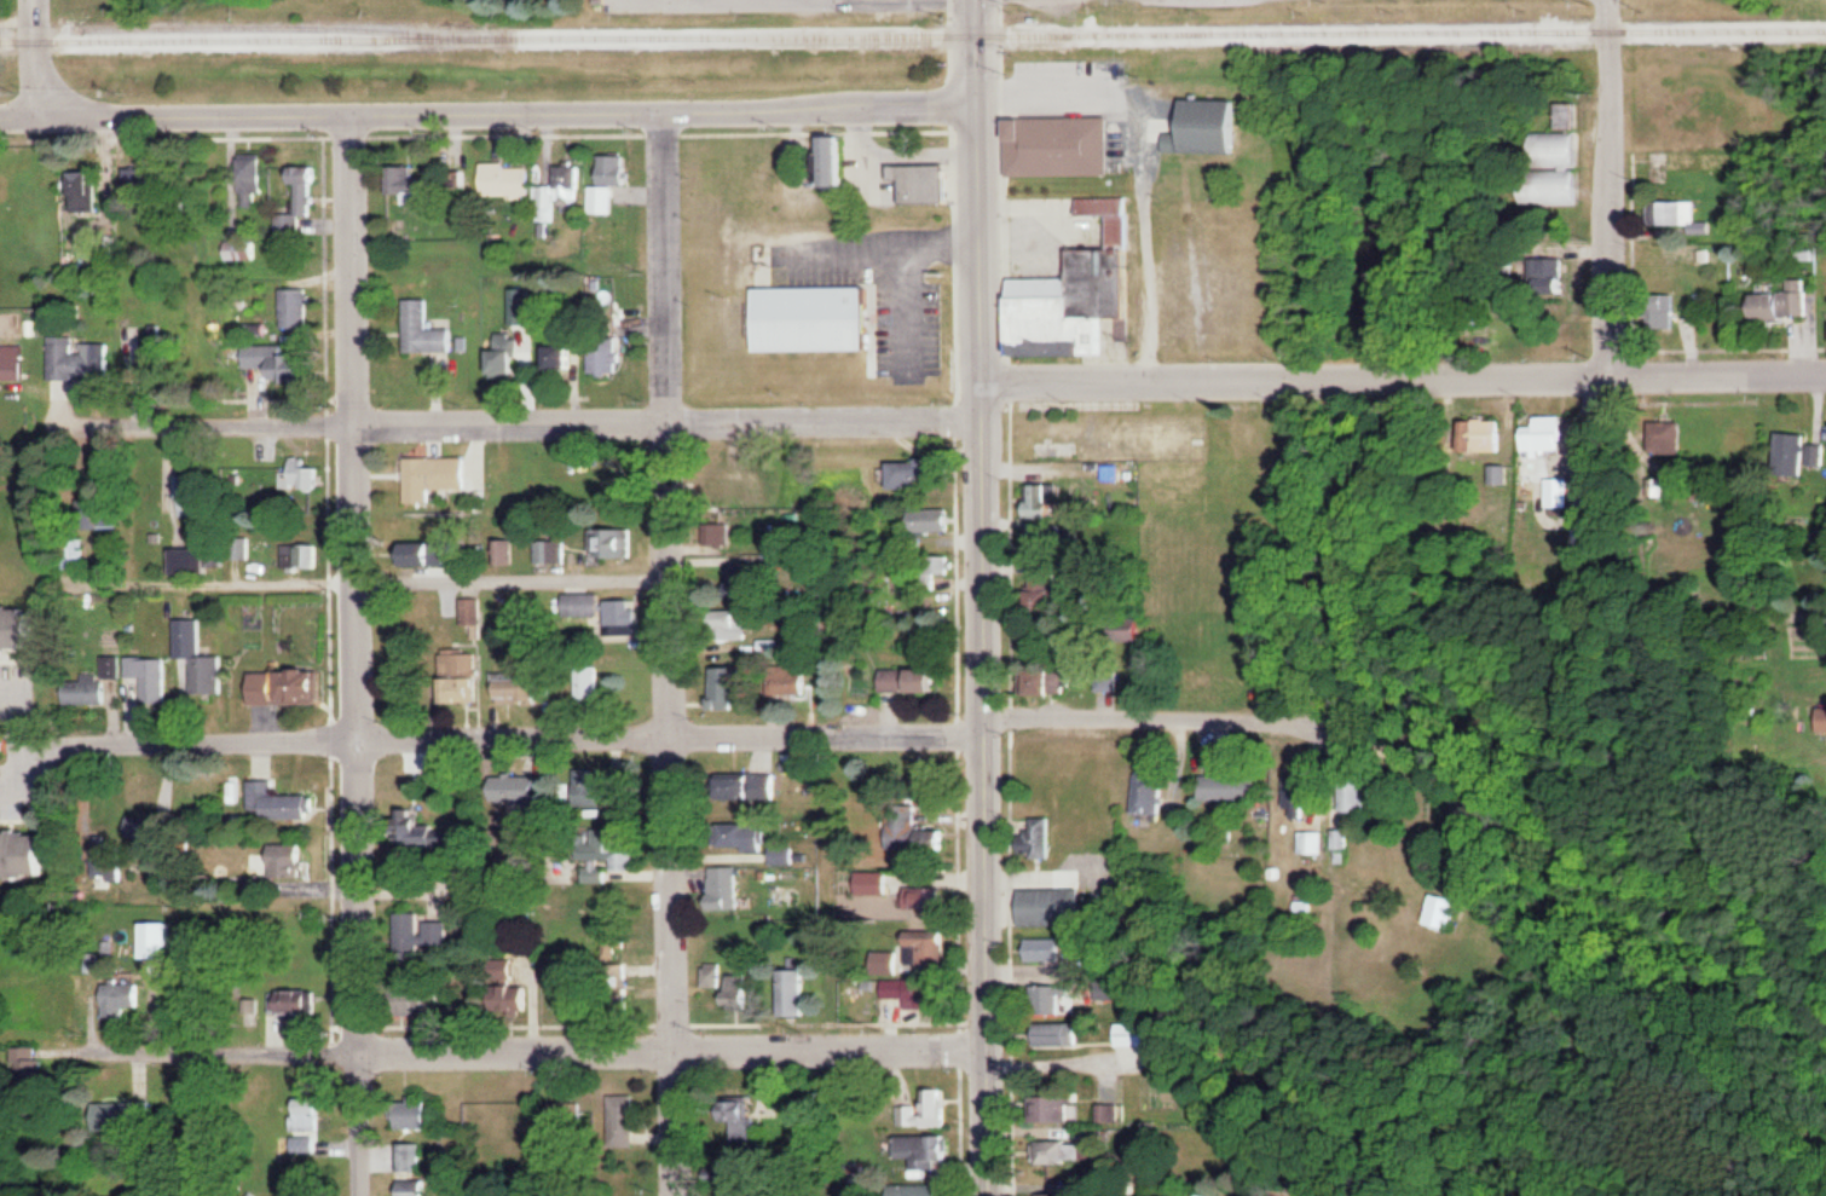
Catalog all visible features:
railway: (243, 25)
railway: (912, 33)
road: (35, 56)
road: (487, 111)
building: (1566, 115)
building: (1209, 127)
building: (1058, 145)
building: (1560, 148)
building: (254, 179)
building: (509, 179)
building: (609, 181)
building: (87, 183)
building: (456, 183)
building: (925, 183)
building: (1568, 185)
building: (418, 186)
road: (1607, 187)
building: (562, 193)
building: (297, 209)
building: (1685, 212)
building: (242, 250)
building: (1080, 293)
building: (1774, 304)
building: (295, 307)
building: (1662, 314)
building: (817, 318)
building: (427, 330)
building: (509, 354)
building: (564, 357)
building: (608, 358)
building: (81, 359)
building: (284, 362)
road: (1402, 377)
road: (531, 417)
building: (1486, 433)
building: (1584, 434)
building: (1669, 435)
building: (1545, 438)
building: (1156, 441)
building: (1792, 447)
building: (913, 472)
building: (306, 474)
building: (439, 474)
building: (733, 489)
building: (1559, 491)
building: (196, 493)
building: (1046, 498)
building: (114, 519)
building: (934, 519)
building: (617, 542)
building: (1044, 543)
building: (553, 549)
building: (74, 550)
building: (508, 550)
building: (195, 560)
building: (932, 570)
road: (386, 571)
building: (1047, 590)
building: (740, 593)
road: (981, 597)
building: (586, 603)
building: (735, 624)
building: (19, 628)
building: (1138, 630)
building: (774, 645)
road: (666, 653)
road: (356, 654)
building: (200, 657)
building: (150, 676)
building: (464, 676)
building: (791, 680)
building: (913, 680)
building: (1054, 680)
building: (93, 682)
building: (289, 687)
building: (521, 687)
building: (733, 688)
road: (1154, 718)
building: (1824, 720)
road: (533, 734)
building: (753, 786)
building: (597, 787)
building: (1231, 787)
building: (519, 788)
building: (1300, 791)
building: (1154, 795)
building: (278, 802)
building: (906, 824)
building: (437, 833)
building: (749, 837)
building: (1040, 837)
building: (938, 838)
building: (131, 848)
building: (609, 854)
building: (24, 855)
building: (786, 856)
building: (293, 859)
building: (894, 885)
building: (728, 888)
building: (1058, 906)
building: (1446, 906)
building: (423, 932)
building: (1050, 949)
building: (930, 952)
building: (888, 964)
building: (507, 969)
building: (715, 977)
building: (897, 989)
building: (745, 990)
building: (423, 993)
building: (794, 993)
building: (938, 996)
building: (123, 998)
building: (515, 998)
building: (1053, 999)
building: (296, 1001)
building: (1063, 1033)
building: (1144, 1033)
road: (539, 1047)
building: (30, 1063)
building: (1063, 1108)
building: (928, 1110)
building: (312, 1113)
building: (133, 1114)
building: (423, 1114)
building: (573, 1117)
building: (741, 1117)
building: (626, 1121)
building: (310, 1144)
building: (1077, 1149)
building: (919, 1150)
building: (414, 1156)
road: (1301, 1174)
building: (416, 1188)
building: (917, 1189)
building: (742, 1194)

